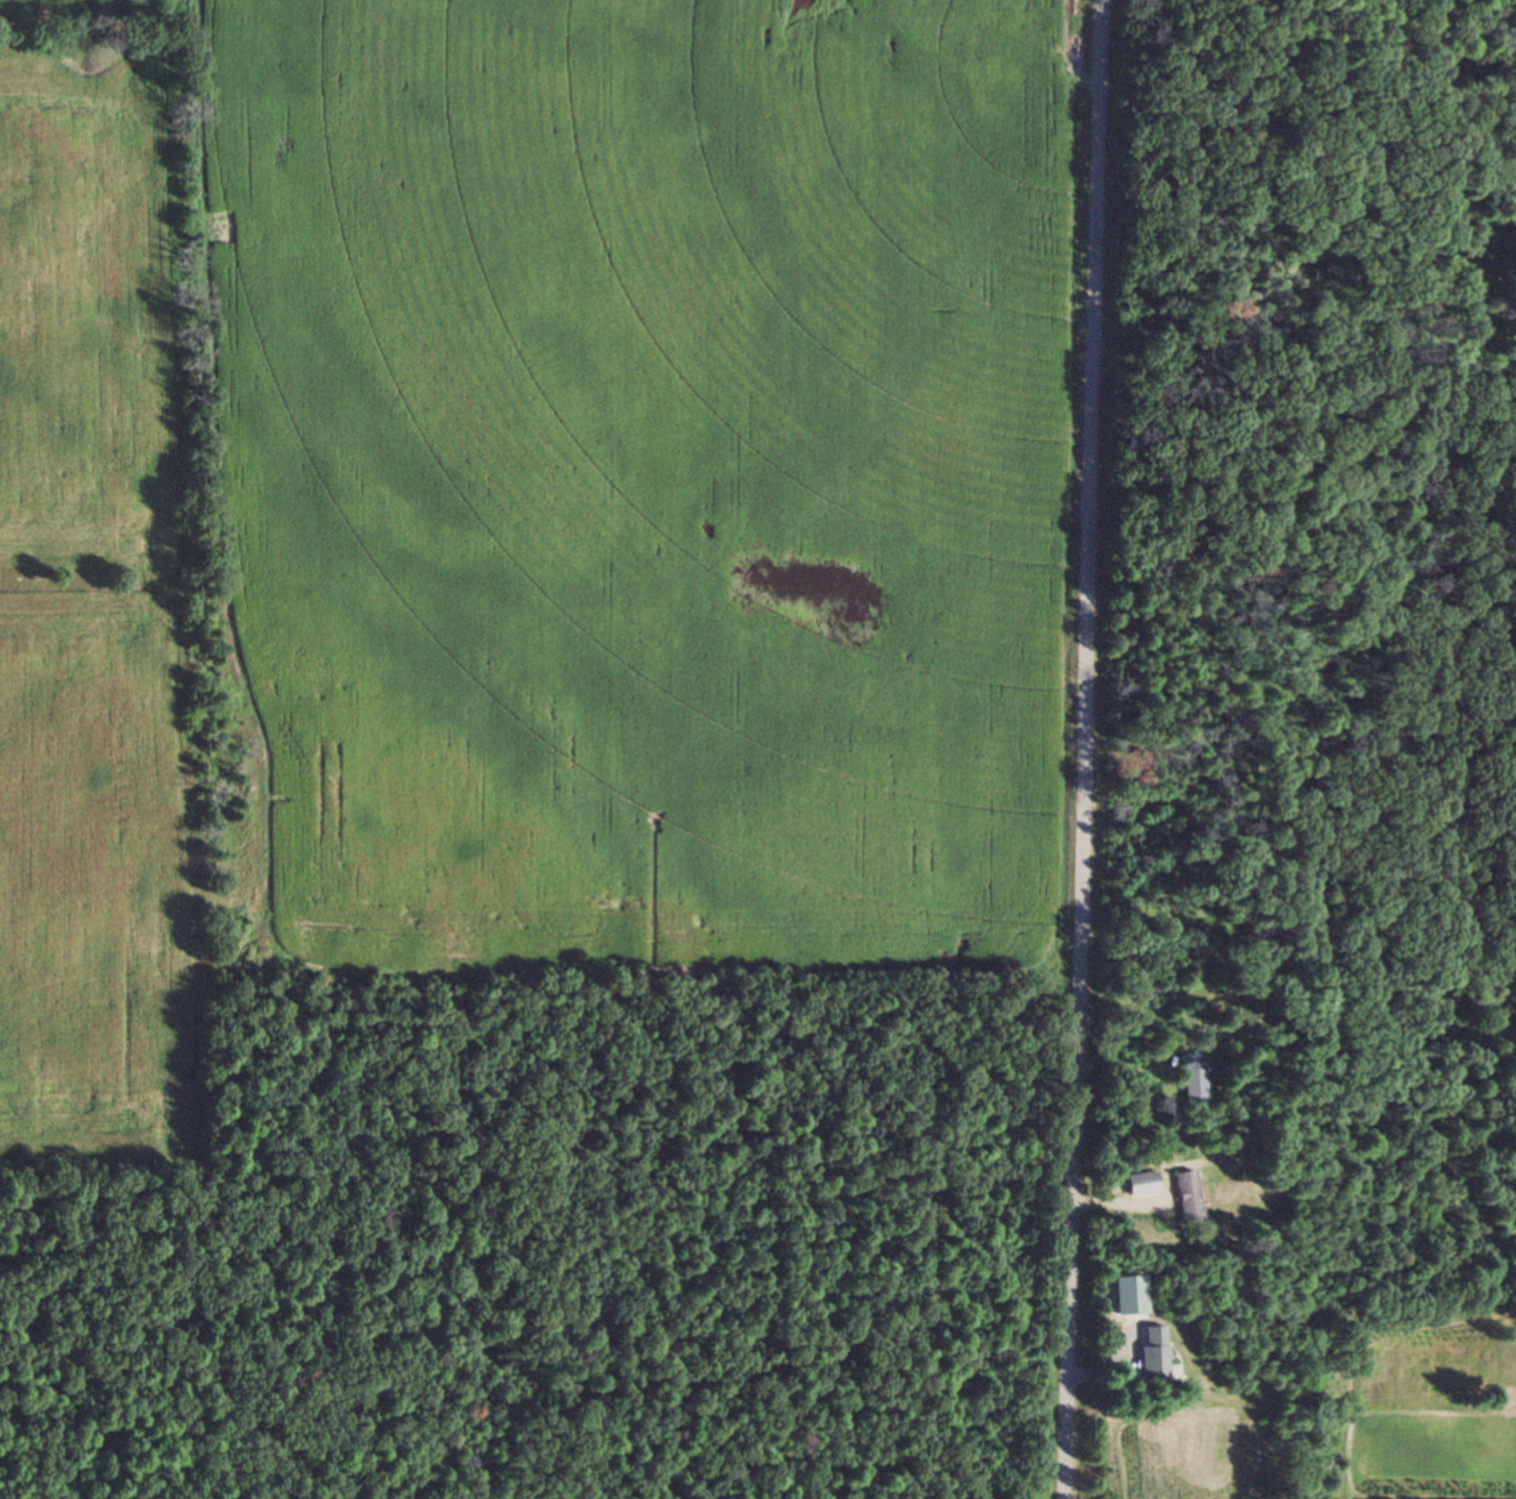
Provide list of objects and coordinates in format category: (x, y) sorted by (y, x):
road: (1084, 749)
building: (1195, 1088)
building: (1144, 1191)
building: (1189, 1203)
building: (1154, 1362)

